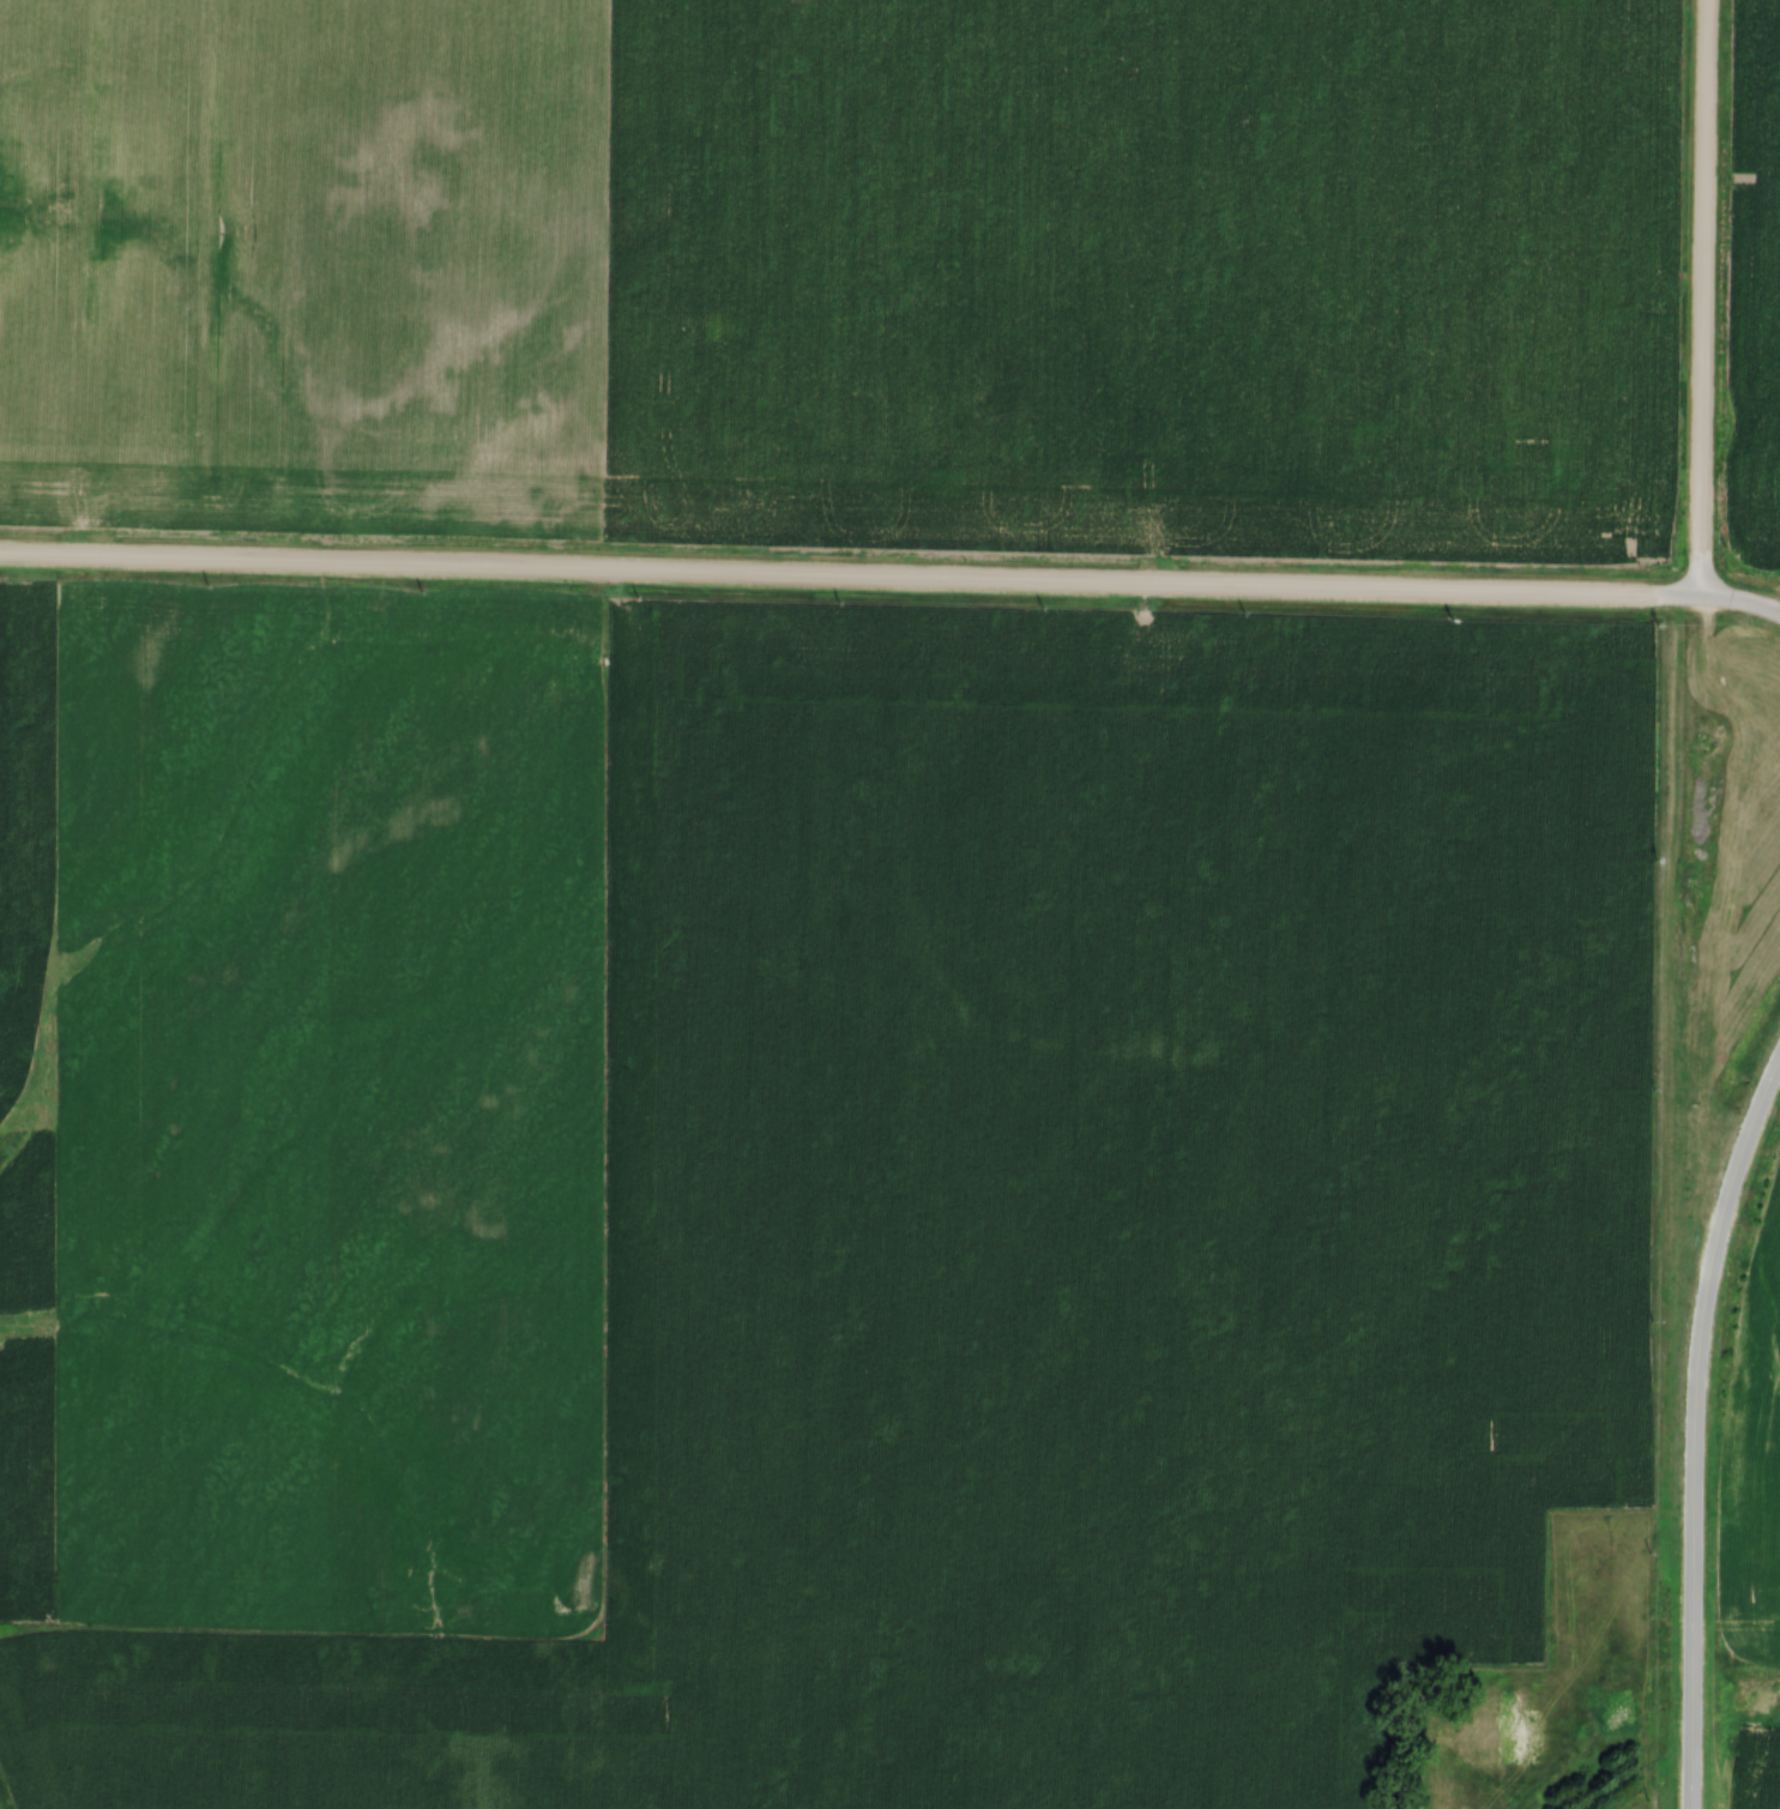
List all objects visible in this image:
road: (1703, 297)
road: (889, 578)
road: (1696, 1427)
crop: (1757, 1467)

